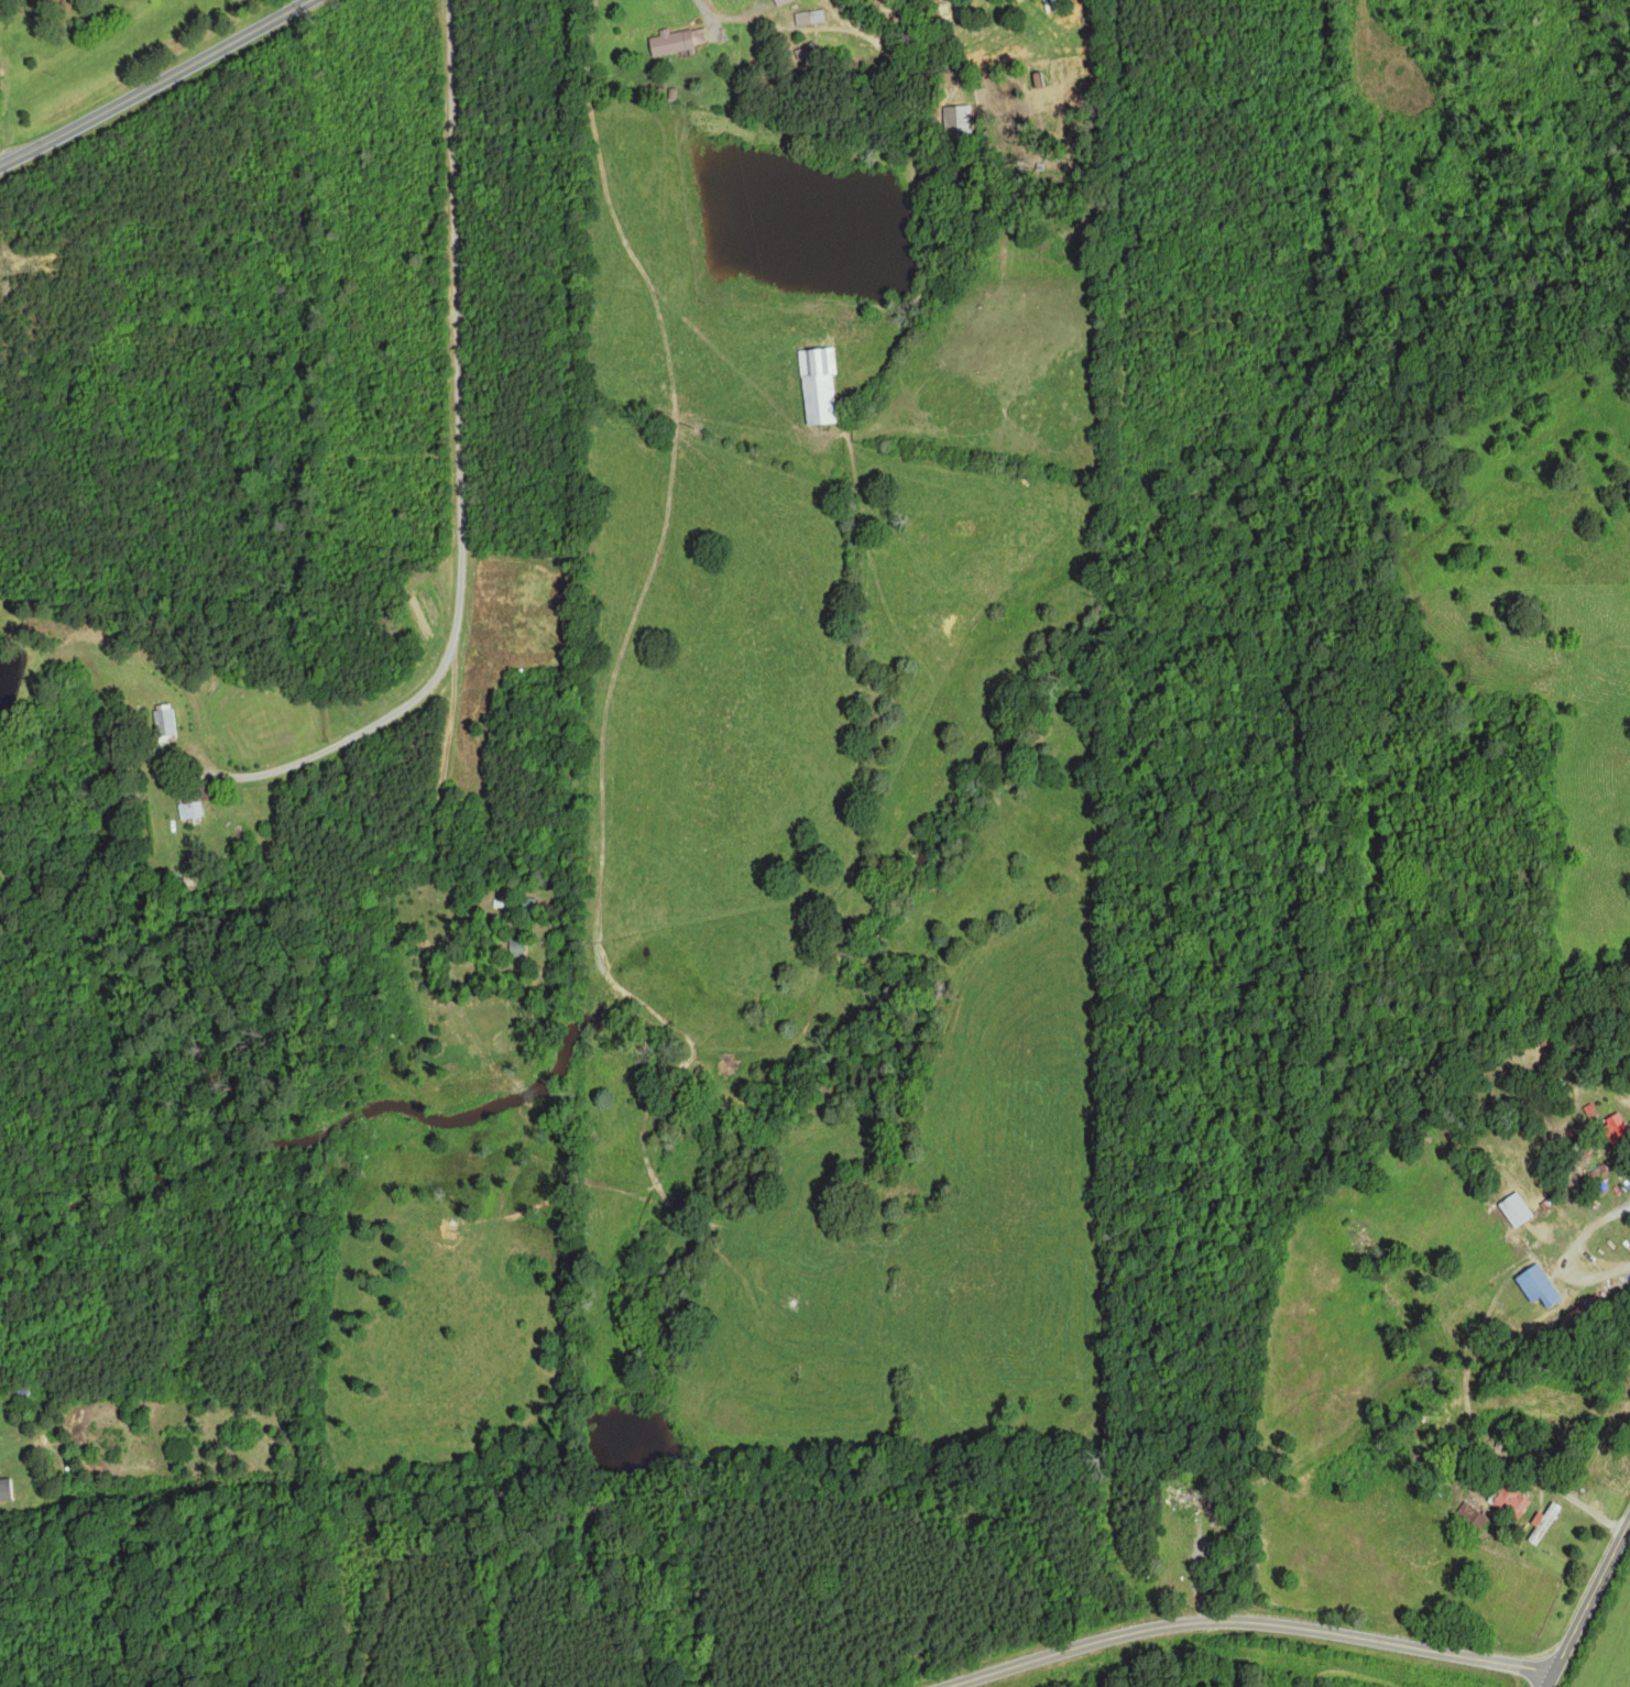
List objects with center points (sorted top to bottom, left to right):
building: (778, 1)
building: (808, 17)
building: (672, 41)
road: (154, 80)
building: (954, 119)
building: (816, 384)
building: (161, 722)
building: (188, 811)
building: (513, 947)
building: (1588, 1110)
building: (1612, 1127)
building: (1513, 1209)
building: (1534, 1285)
building: (3, 1489)
building: (1508, 1500)
building: (1542, 1522)
road: (1588, 1603)
road: (1246, 1618)

